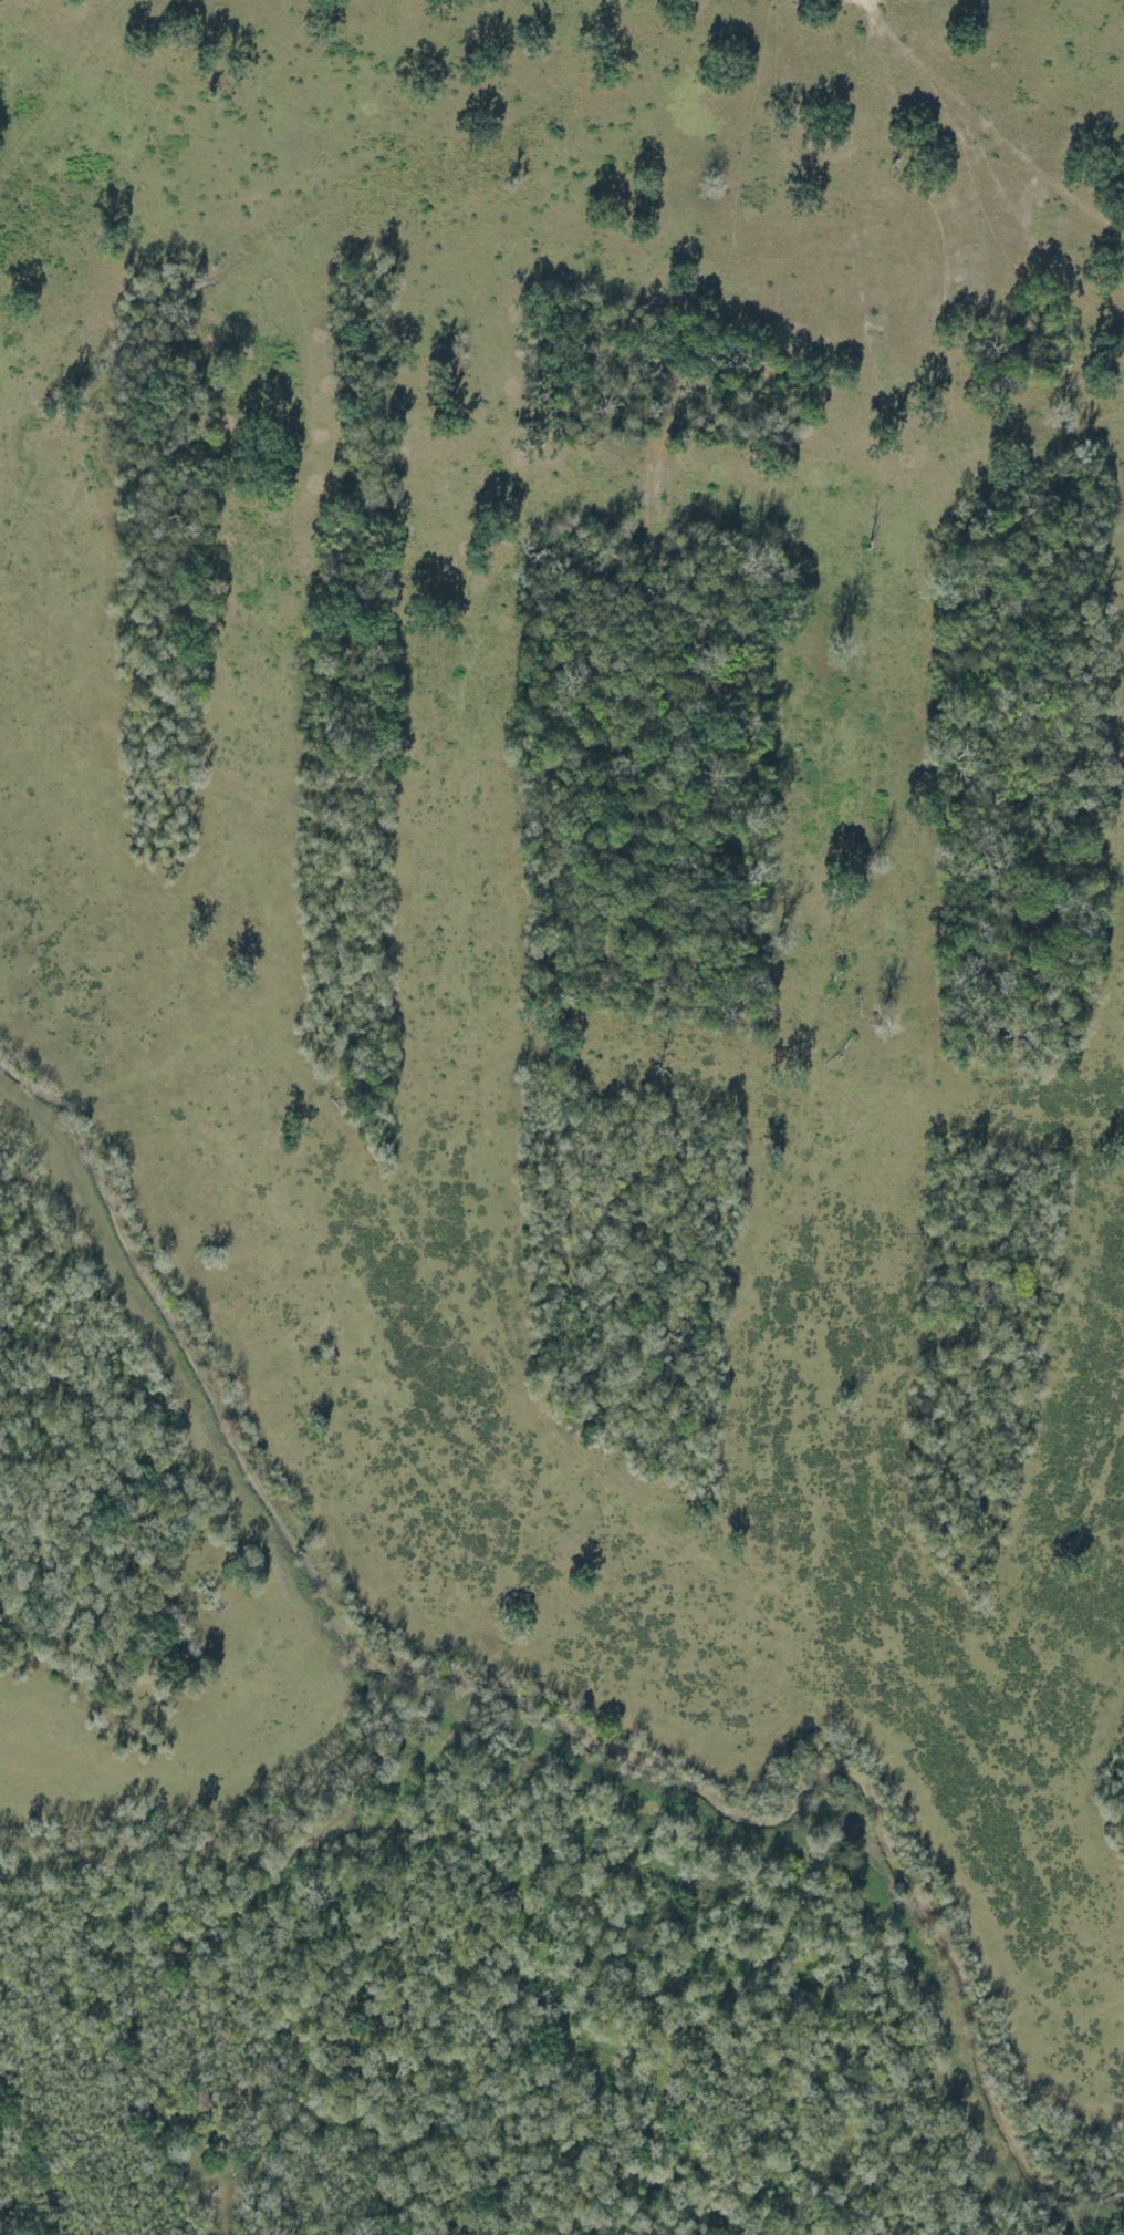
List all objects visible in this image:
river: (535, 1698)

